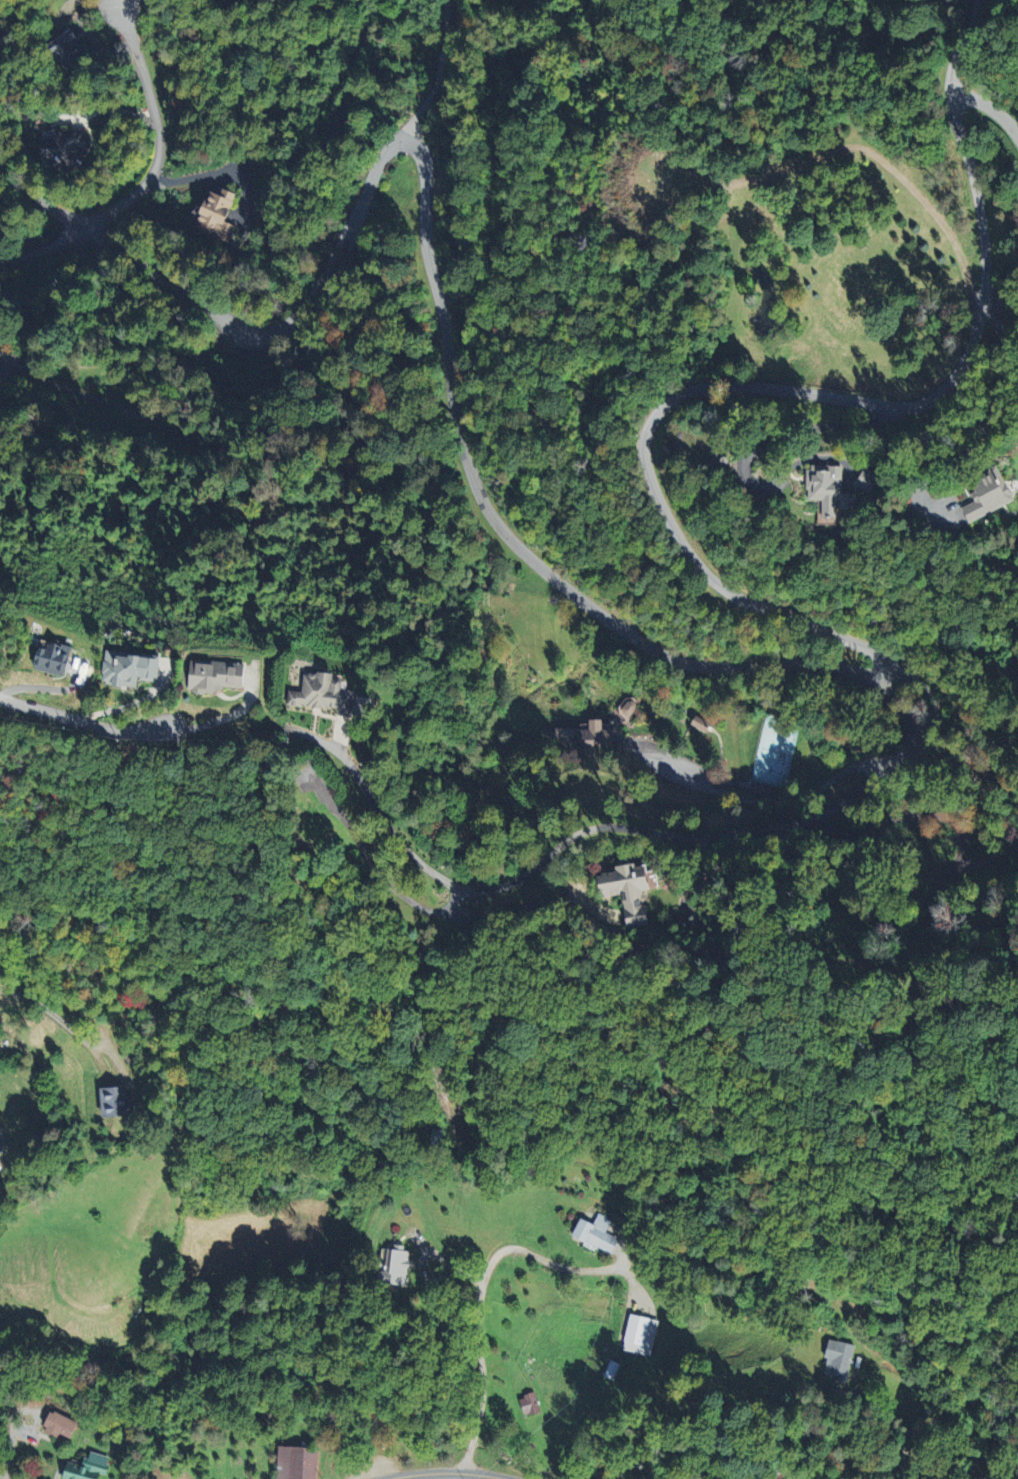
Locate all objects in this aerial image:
road: (124, 2)
building: (64, 47)
road: (428, 69)
road: (992, 107)
road: (158, 127)
building: (60, 148)
building: (212, 215)
road: (46, 247)
road: (234, 324)
road: (7, 368)
road: (808, 392)
road: (984, 426)
building: (825, 490)
building: (982, 494)
road: (508, 535)
building: (28, 661)
building: (109, 670)
building: (201, 677)
building: (309, 695)
building: (352, 705)
road: (215, 718)
road: (80, 722)
building: (696, 723)
building: (593, 735)
building: (758, 789)
road: (768, 802)
road: (628, 829)
road: (956, 858)
building: (621, 891)
road: (60, 1020)
building: (117, 1102)
building: (597, 1232)
building: (399, 1264)
road: (464, 1318)
building: (637, 1334)
building: (835, 1359)
building: (530, 1404)
building: (60, 1425)
road: (887, 1430)
road: (981, 1440)
building: (298, 1463)
building: (86, 1468)
road: (454, 1470)

